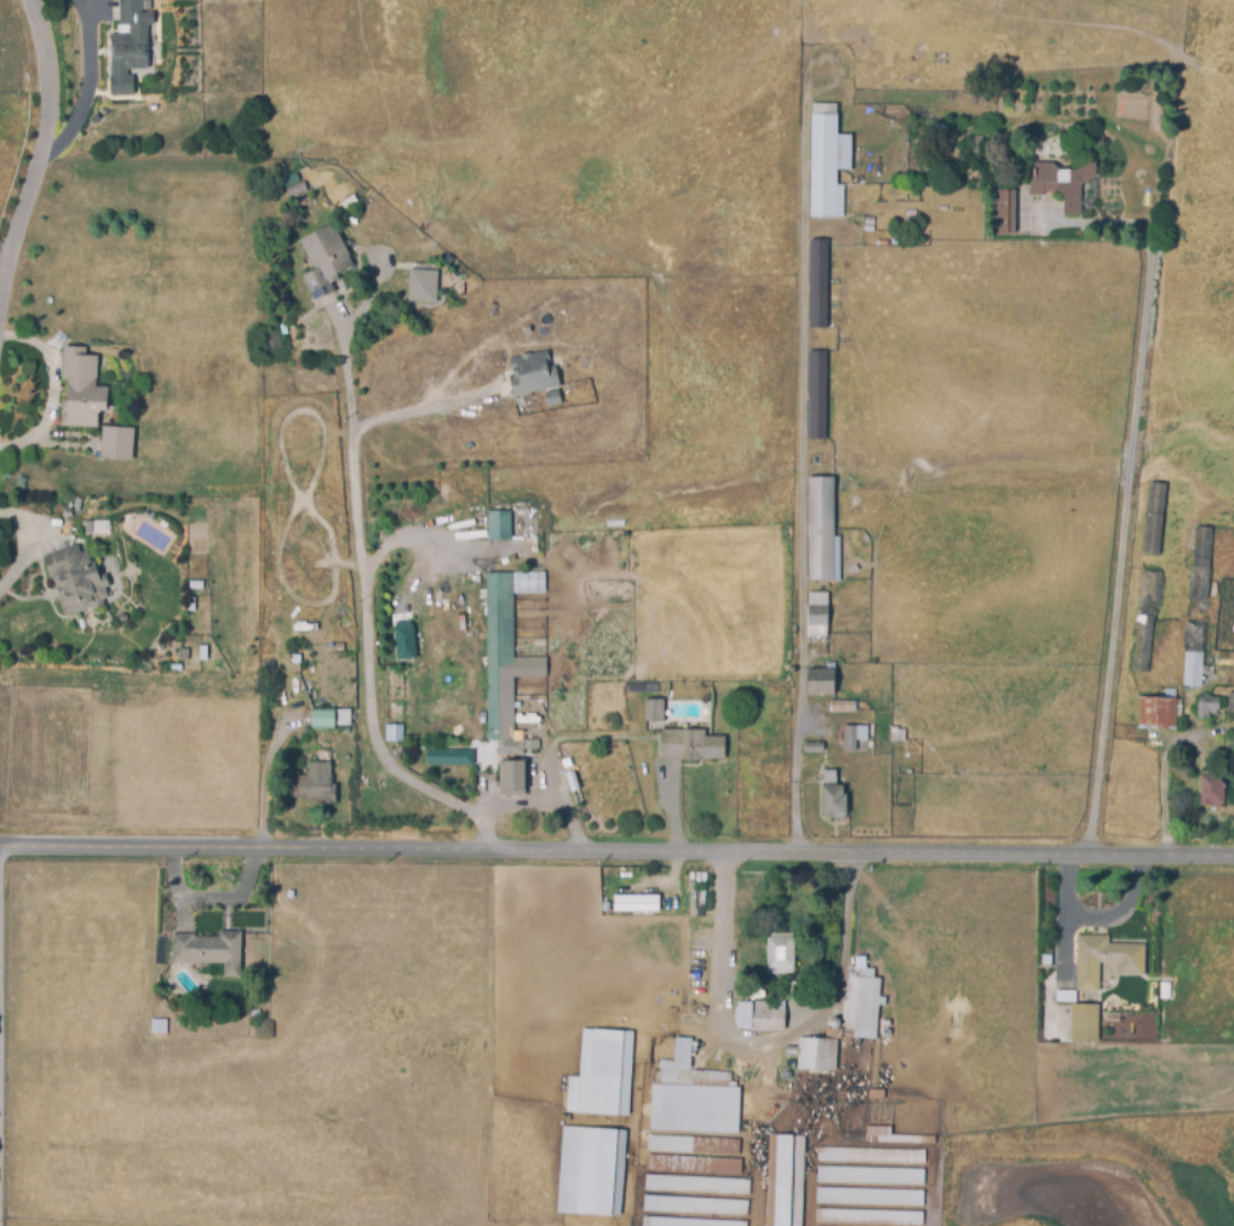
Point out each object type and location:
building: (136, 17)
building: (126, 68)
road: (85, 87)
road: (40, 144)
building: (826, 166)
building: (1063, 183)
building: (294, 190)
building: (1003, 212)
road: (4, 247)
building: (323, 259)
building: (816, 283)
building: (423, 286)
building: (534, 374)
building: (80, 390)
building: (816, 396)
building: (553, 398)
road: (425, 408)
building: (116, 443)
road: (803, 457)
road: (1125, 487)
building: (1154, 519)
building: (500, 526)
building: (821, 533)
road: (412, 539)
building: (1201, 564)
building: (74, 581)
building: (194, 586)
building: (190, 604)
building: (817, 615)
road: (362, 616)
building: (1144, 621)
building: (404, 643)
building: (203, 654)
building: (1193, 655)
building: (184, 656)
building: (504, 658)
building: (174, 668)
building: (820, 683)
building: (1230, 701)
building: (842, 707)
building: (1209, 707)
building: (652, 710)
building: (1156, 713)
building: (332, 719)
building: (395, 733)
building: (896, 736)
building: (854, 739)
building: (689, 744)
building: (813, 749)
building: (449, 758)
building: (512, 778)
road: (1161, 781)
building: (572, 782)
building: (314, 783)
building: (1211, 793)
building: (832, 796)
road: (545, 802)
road: (616, 852)
building: (289, 896)
building: (633, 902)
road: (1124, 911)
road: (1068, 921)
building: (208, 951)
building: (779, 956)
building: (1106, 962)
building: (1164, 991)
building: (862, 1005)
building: (761, 1018)
building: (1084, 1024)
building: (157, 1026)
road: (764, 1044)
building: (815, 1054)
building: (689, 1067)
building: (601, 1075)
building: (876, 1095)
building: (693, 1110)
building: (894, 1138)
building: (691, 1146)
building: (871, 1158)
building: (693, 1165)
building: (589, 1173)
building: (868, 1176)
building: (784, 1181)
building: (695, 1186)
building: (868, 1198)
building: (695, 1207)
building: (866, 1219)
building: (684, 1222)

